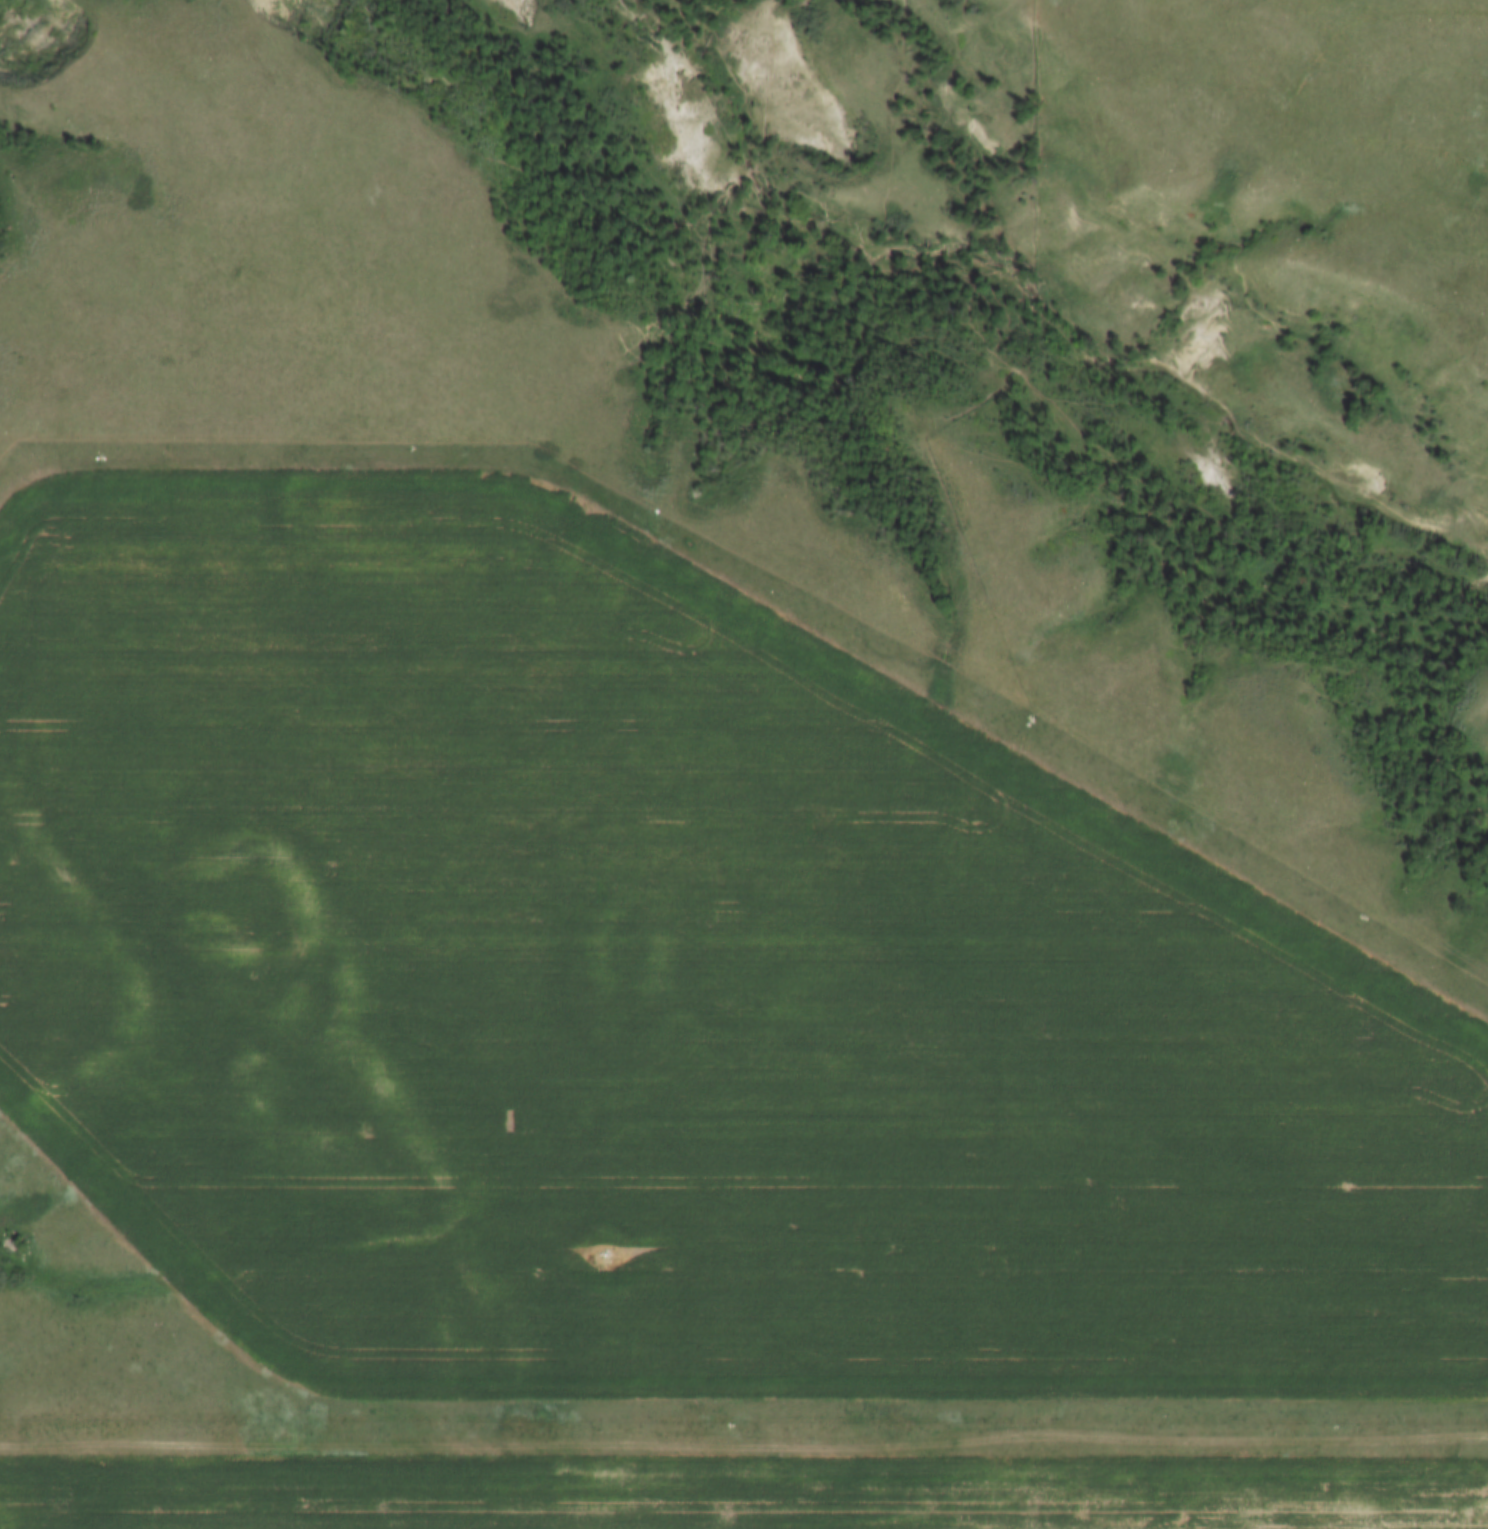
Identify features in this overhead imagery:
road: (745, 1437)

